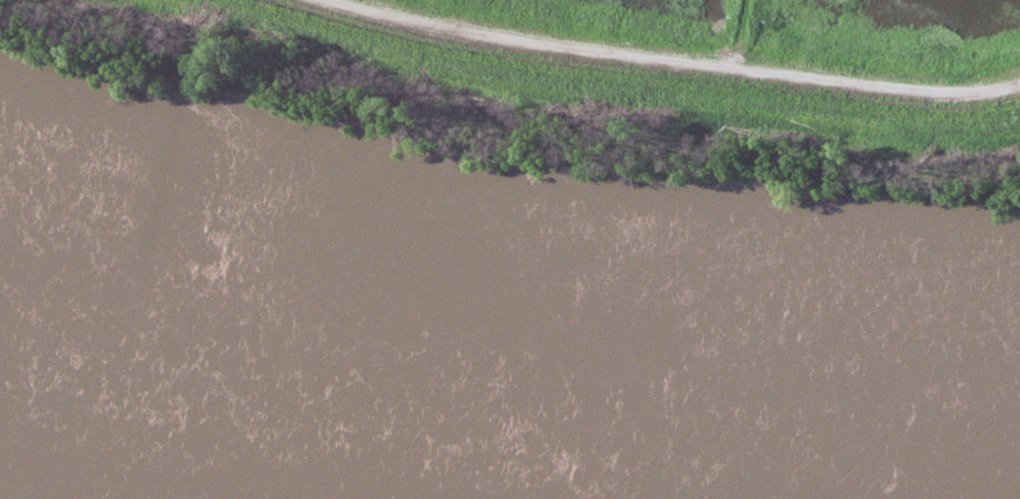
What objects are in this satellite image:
road: (663, 62)
river: (510, 411)

